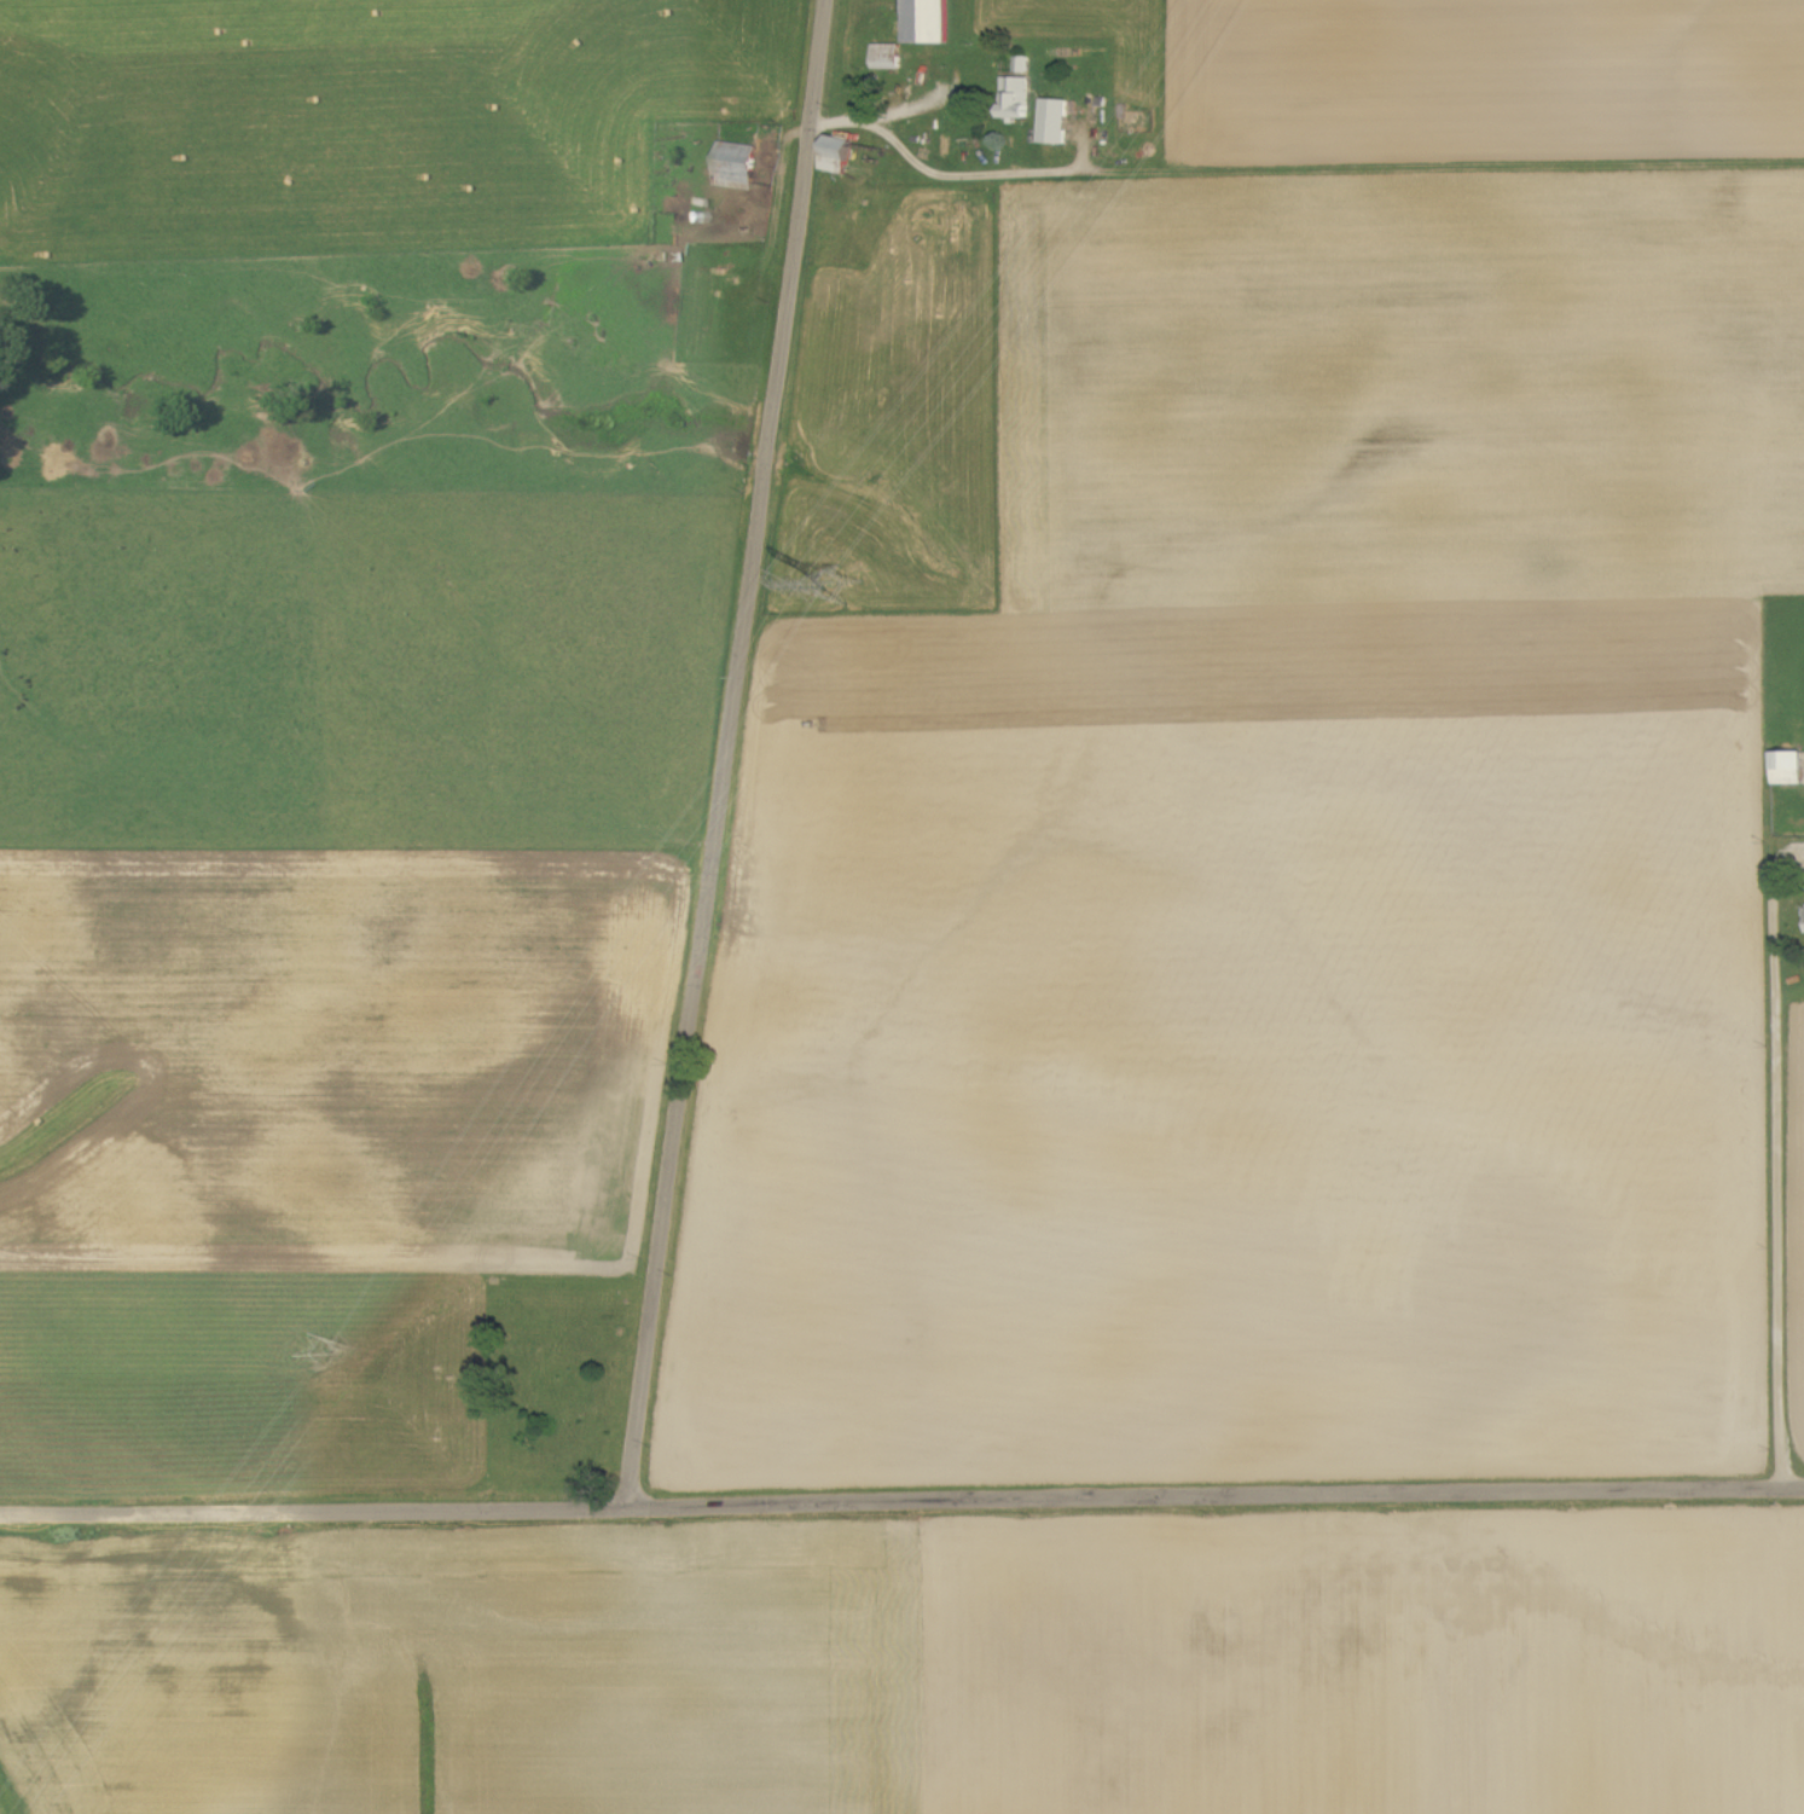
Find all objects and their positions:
building: (927, 22)
building: (887, 57)
building: (1017, 98)
building: (1055, 122)
building: (837, 155)
building: (736, 166)
power tower: (840, 585)
road: (729, 753)
building: (1788, 766)
road: (1776, 1166)
power tower: (303, 1356)
road: (1217, 1503)
road: (314, 1514)

